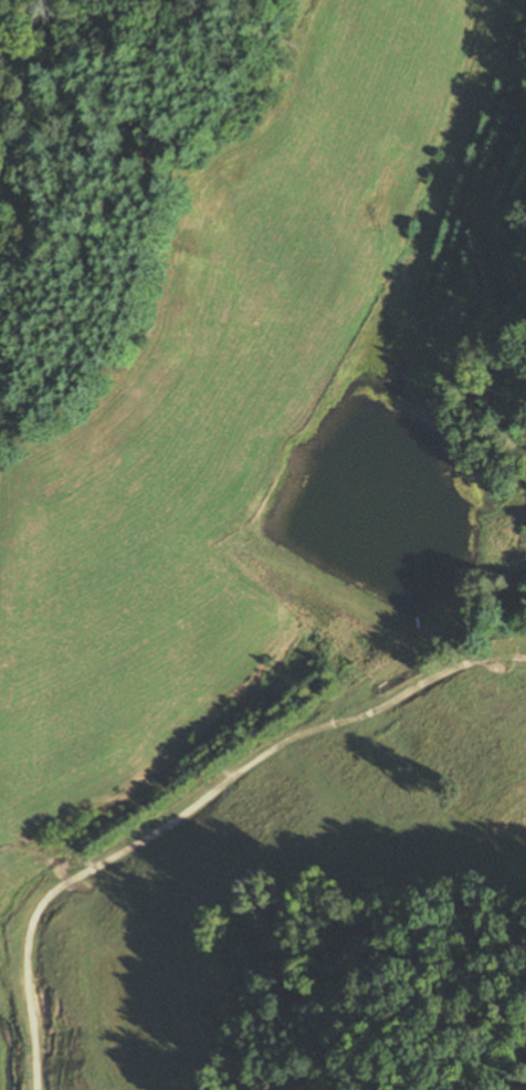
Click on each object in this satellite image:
dam: (326, 581)

